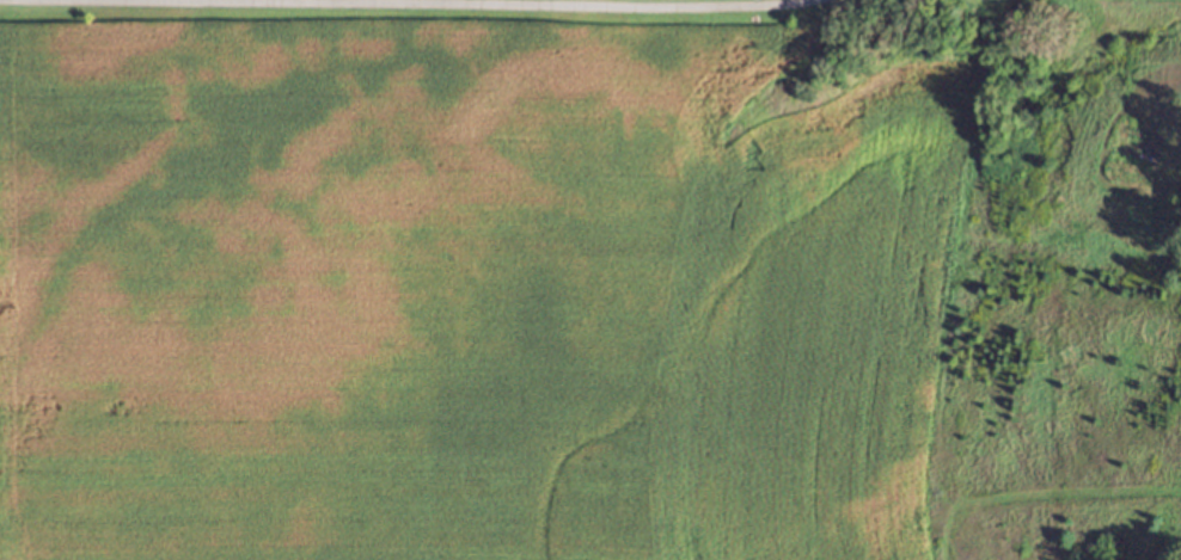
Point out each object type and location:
road: (405, 2)

